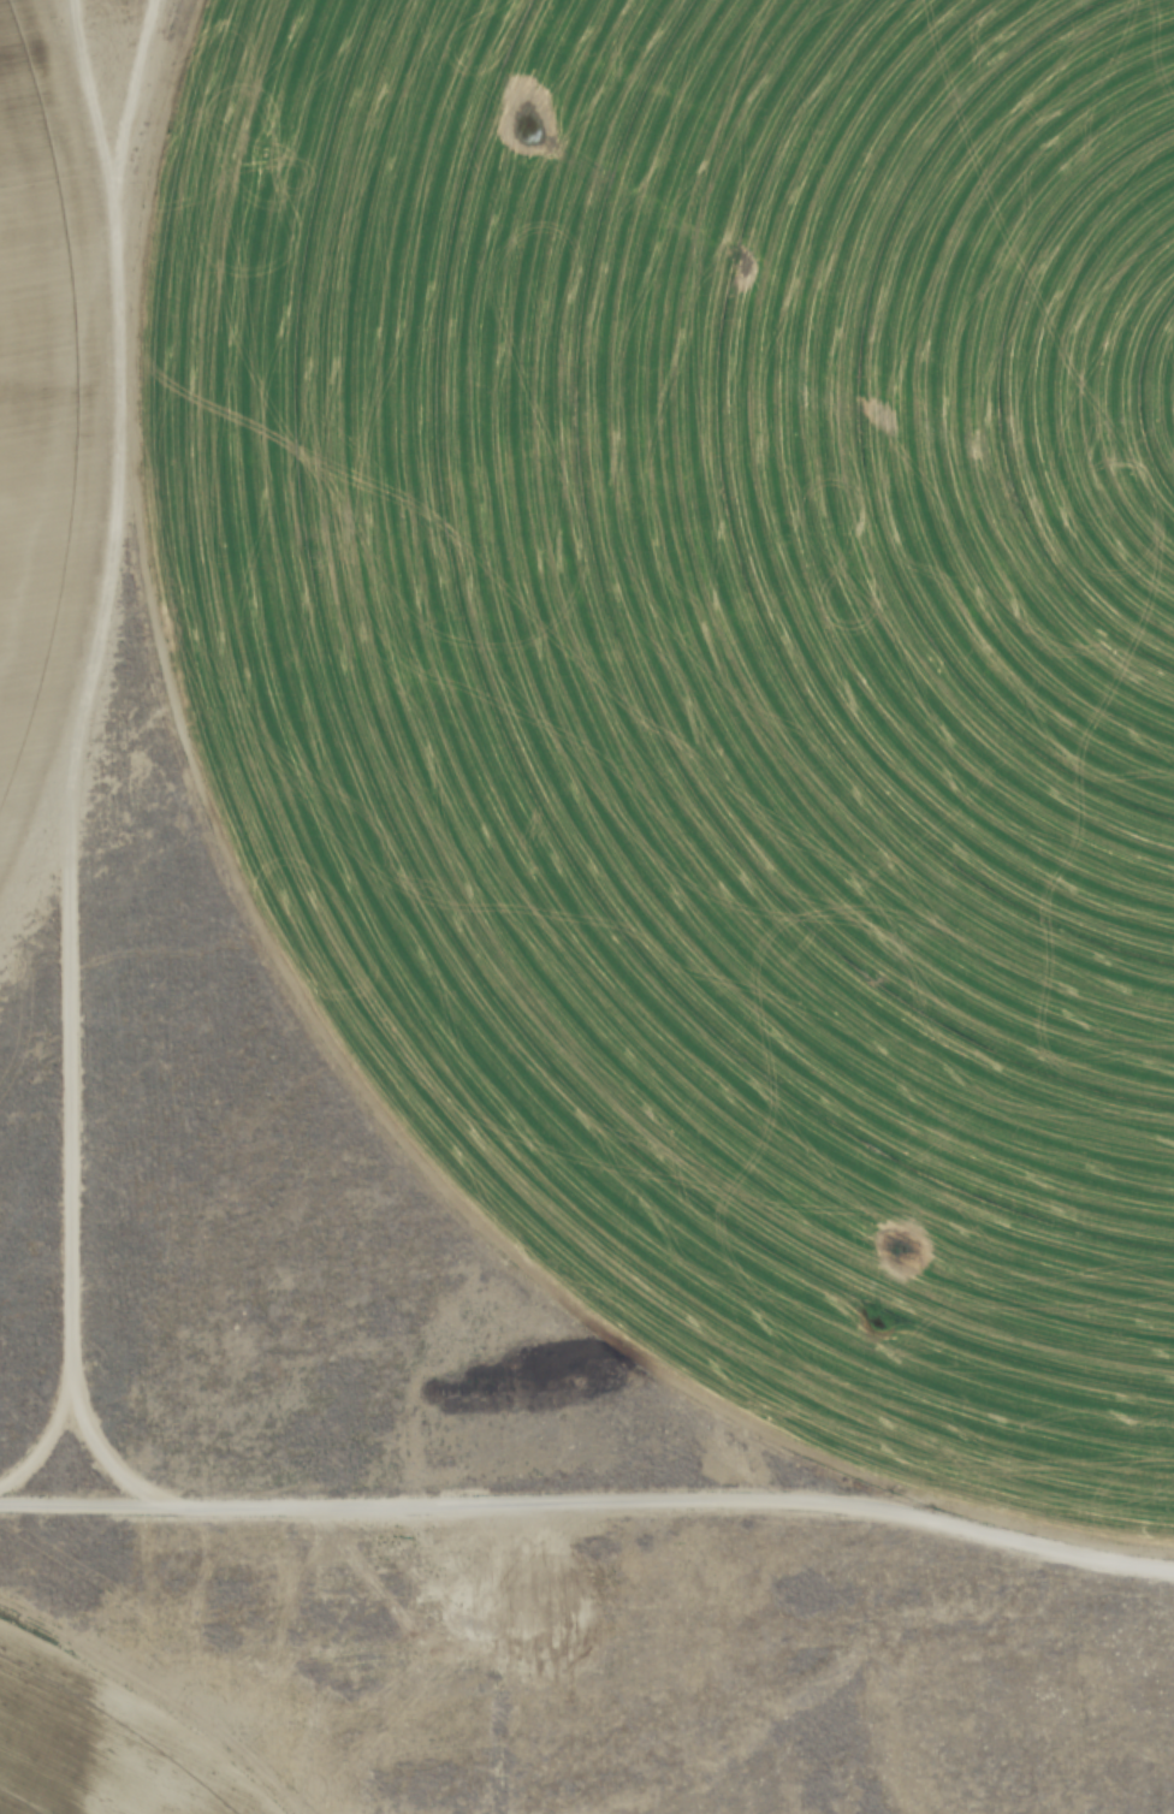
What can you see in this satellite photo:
crop: (24, 399)
crop: (730, 652)

